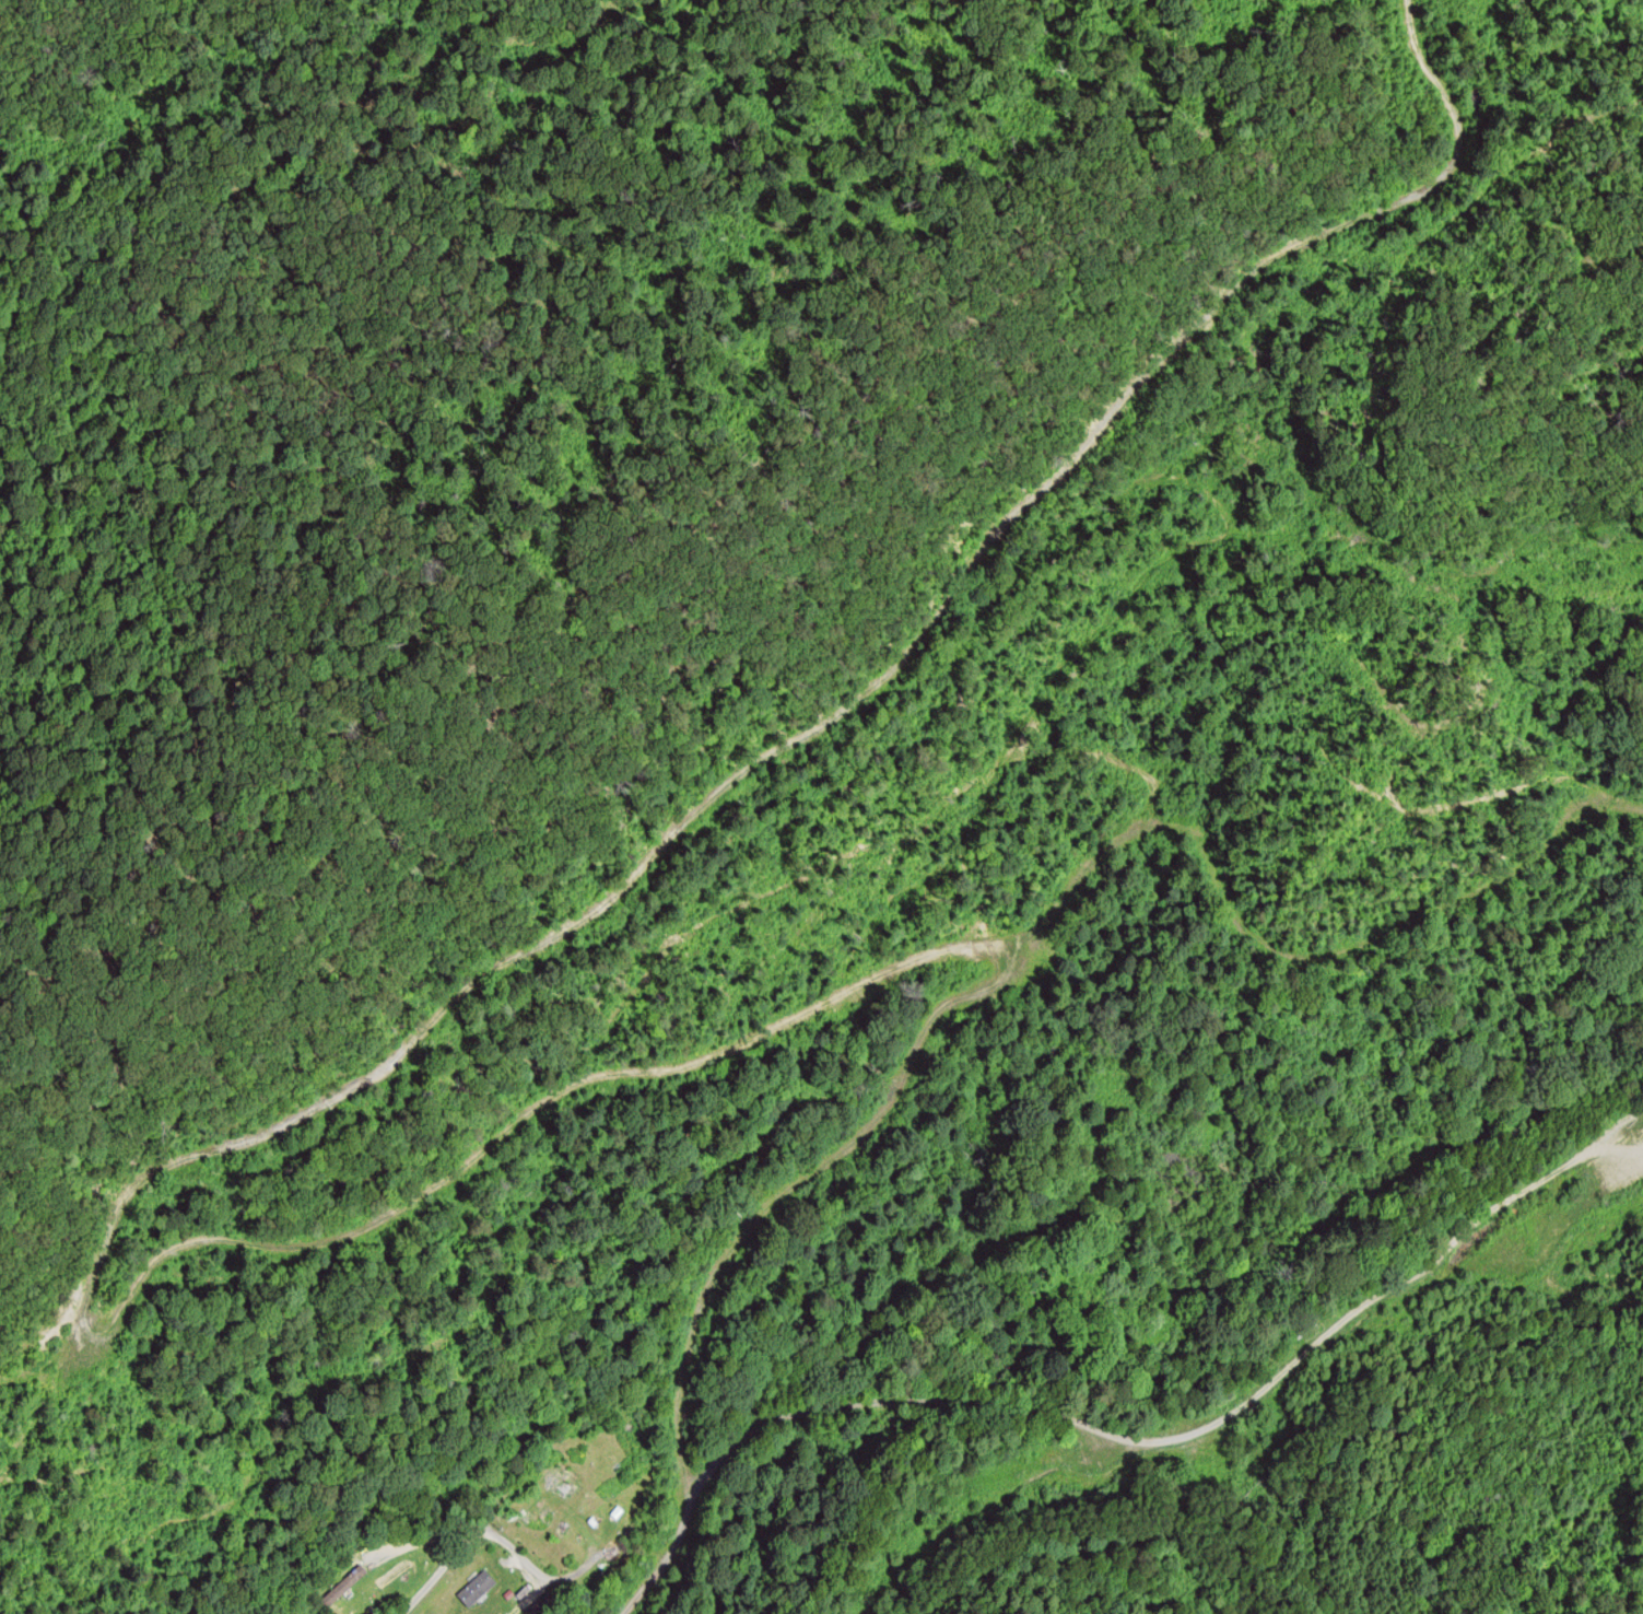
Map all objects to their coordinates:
road: (1139, 1441)
building: (542, 1512)
road: (592, 1541)
building: (354, 1580)
building: (478, 1589)

